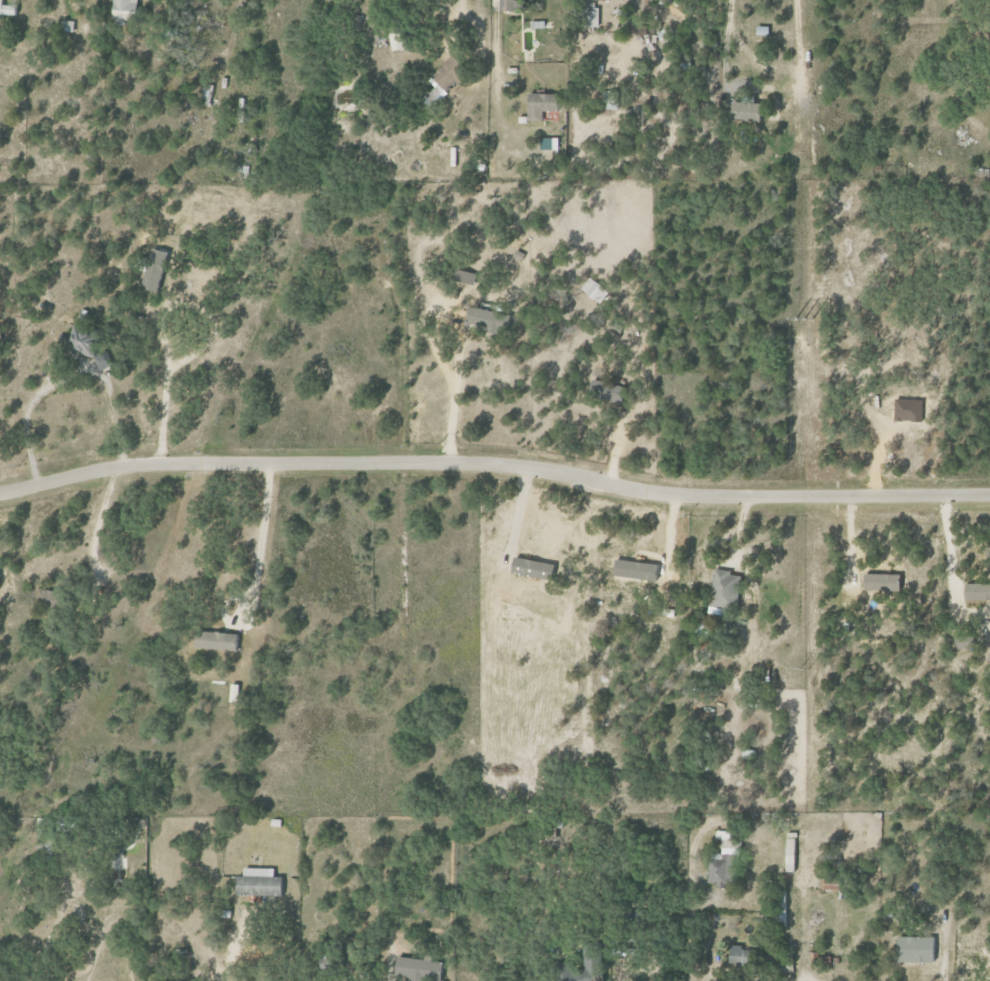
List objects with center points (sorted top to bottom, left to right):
building: (516, 5)
building: (8, 9)
building: (126, 10)
building: (591, 17)
building: (69, 26)
building: (764, 30)
building: (397, 38)
road: (799, 54)
road: (490, 55)
building: (447, 79)
building: (207, 91)
building: (611, 100)
building: (543, 105)
building: (749, 111)
building: (547, 143)
building: (156, 269)
building: (465, 276)
building: (595, 290)
power tower: (805, 318)
building: (487, 319)
building: (88, 346)
road: (457, 349)
road: (59, 384)
road: (162, 390)
building: (606, 391)
road: (494, 464)
road: (92, 528)
road: (254, 573)
building: (879, 581)
building: (722, 589)
building: (975, 591)
building: (50, 599)
building: (703, 630)
building: (218, 641)
building: (961, 641)
power tower: (805, 667)
building: (235, 693)
building: (721, 835)
building: (788, 854)
building: (721, 865)
building: (262, 884)
road: (685, 890)
building: (779, 908)
building: (913, 948)
road: (236, 949)
road: (945, 950)
building: (741, 955)
road: (386, 956)
road: (365, 966)
building: (418, 968)
road: (631, 971)
building: (577, 972)
road: (702, 975)

